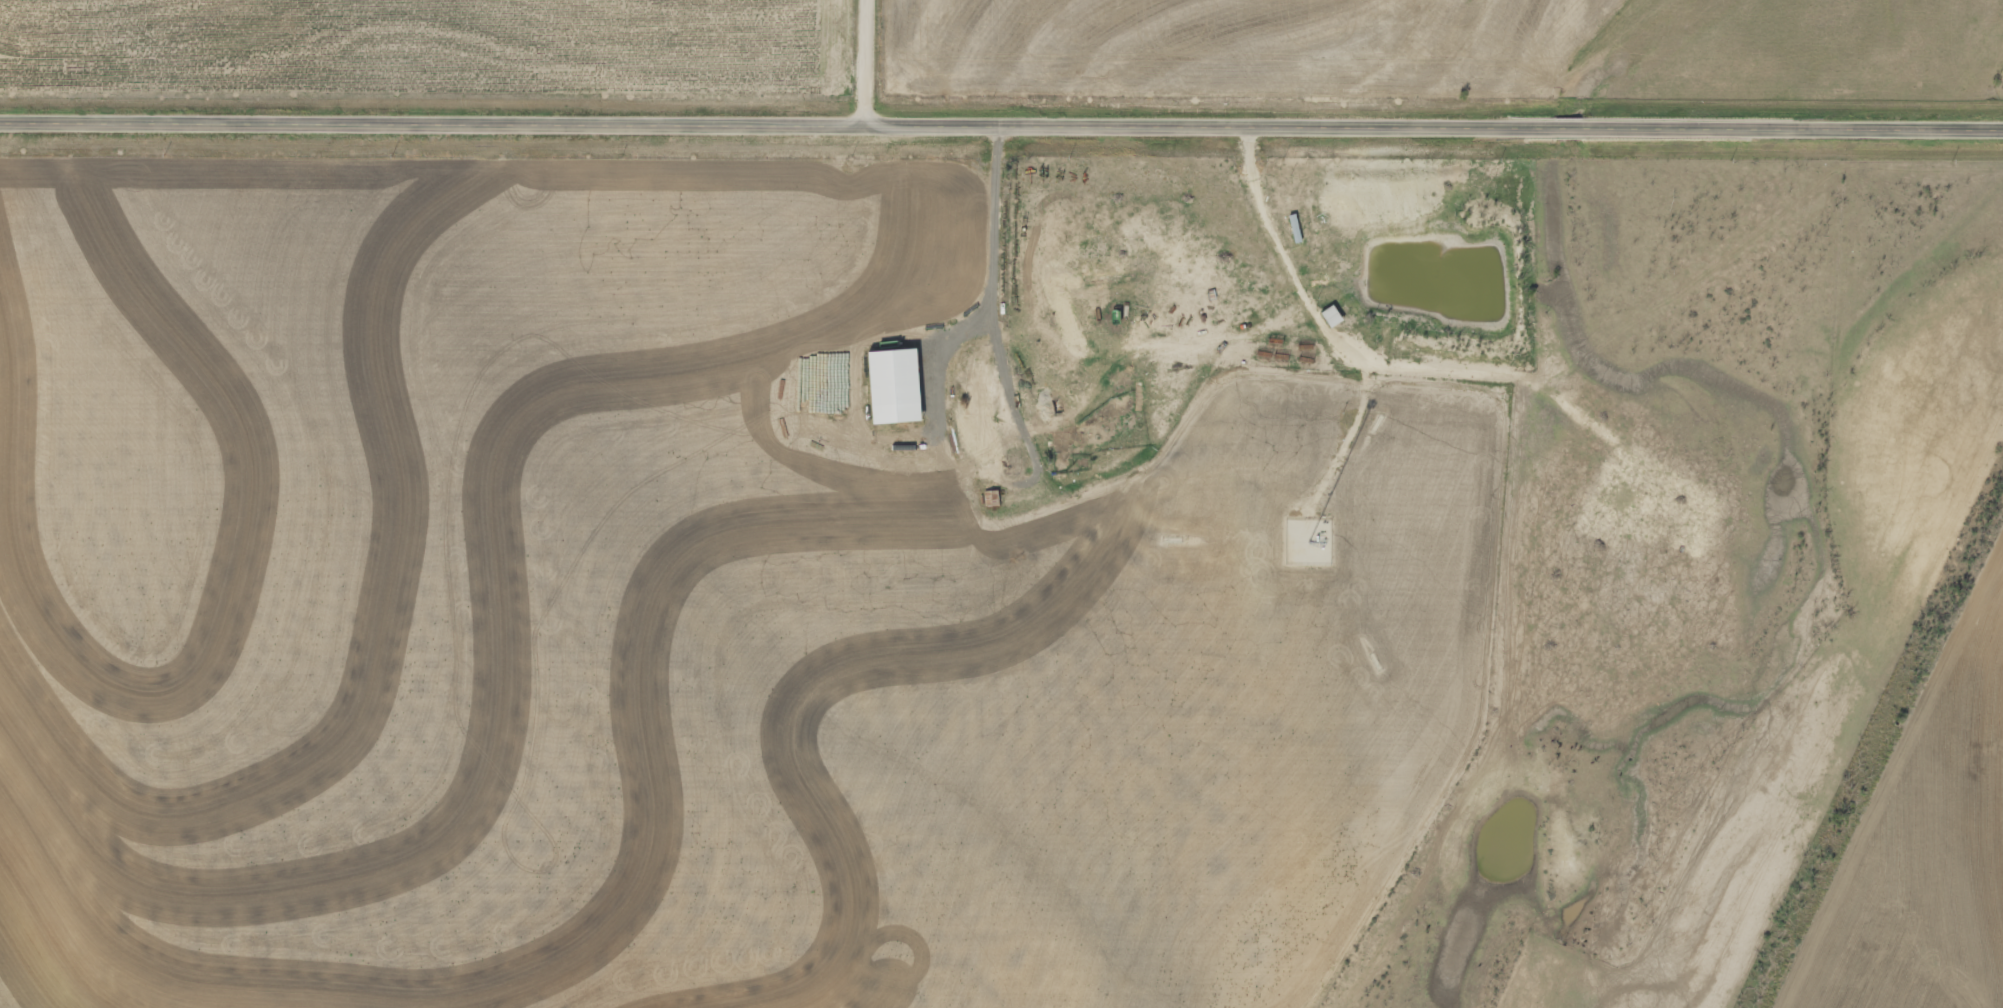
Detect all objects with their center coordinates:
road: (870, 66)
road: (1001, 132)
building: (1333, 315)
building: (896, 385)

